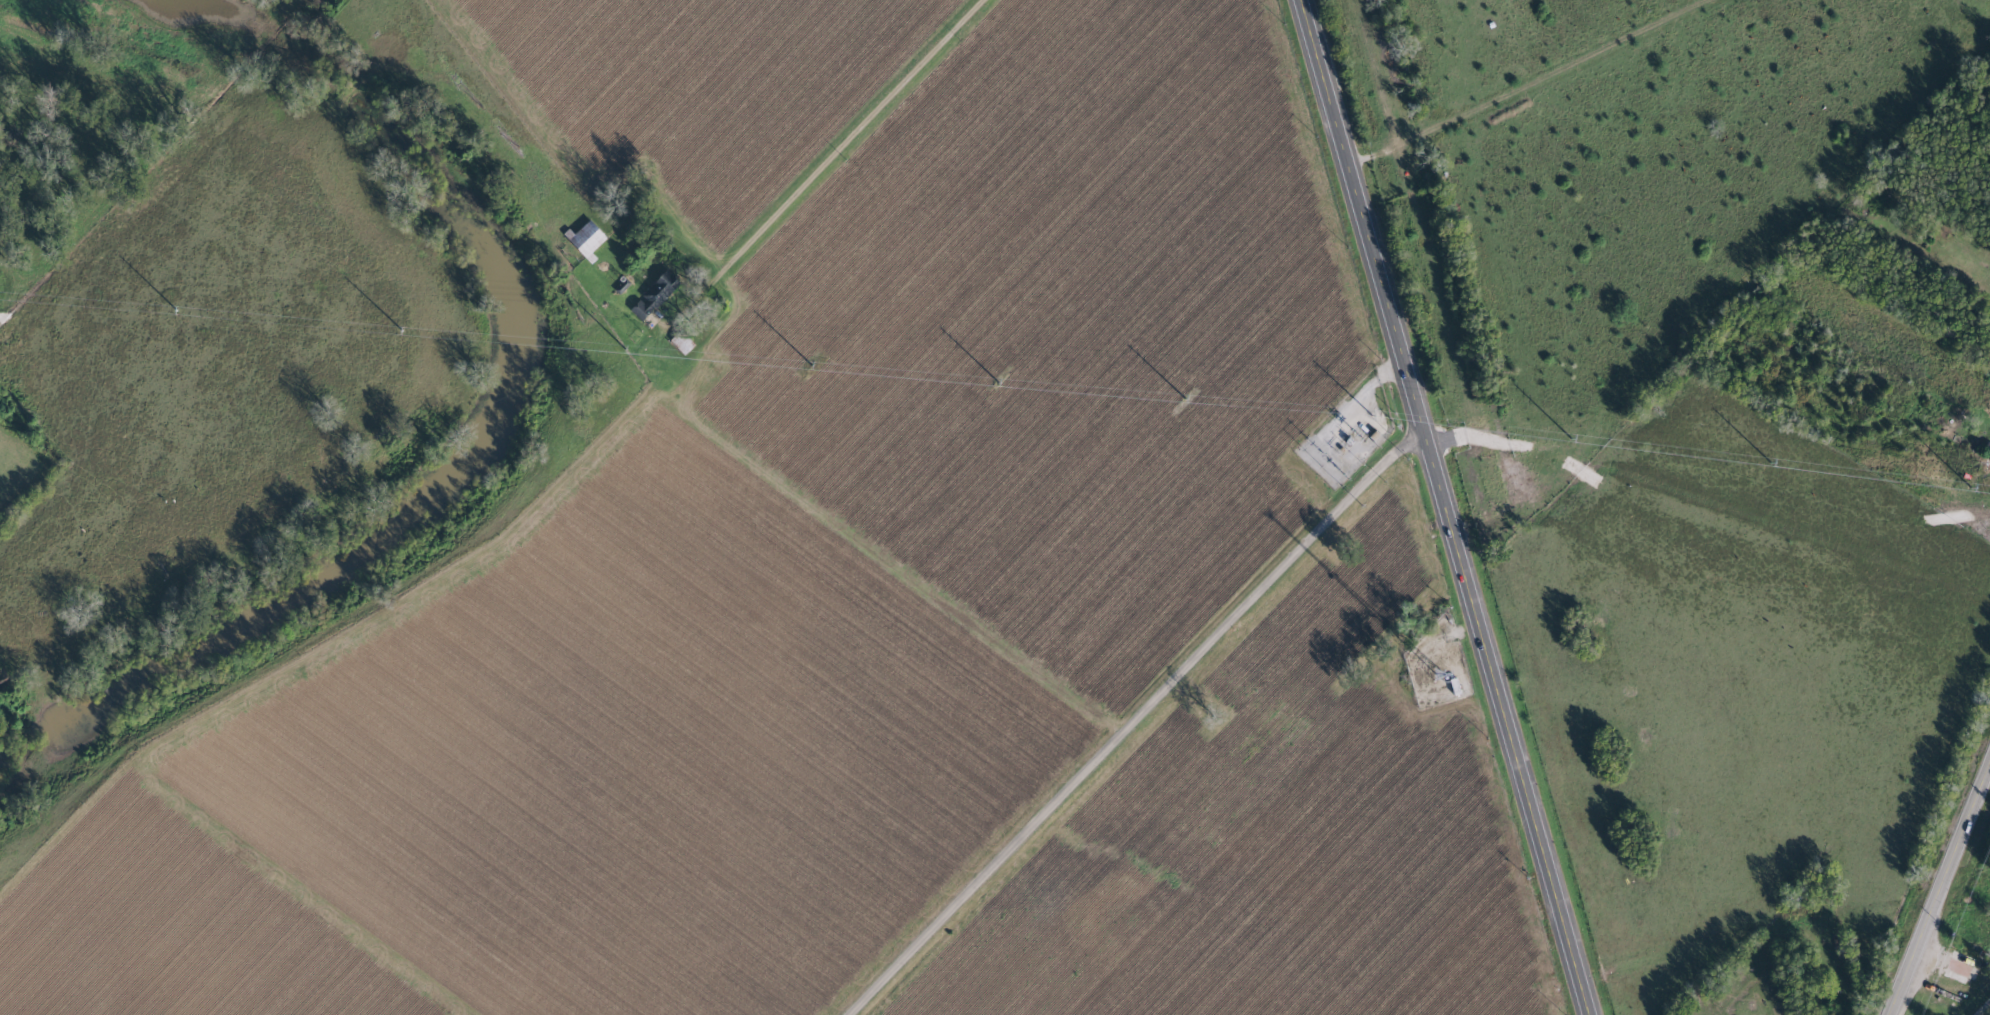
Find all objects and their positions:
road: (854, 132)
building: (588, 237)
building: (656, 295)
power substation: (1343, 433)
power tower: (1356, 435)
building: (1985, 451)
road: (1445, 507)
railway: (1502, 507)
road: (1135, 719)
road: (1937, 883)
road: (1983, 1007)

